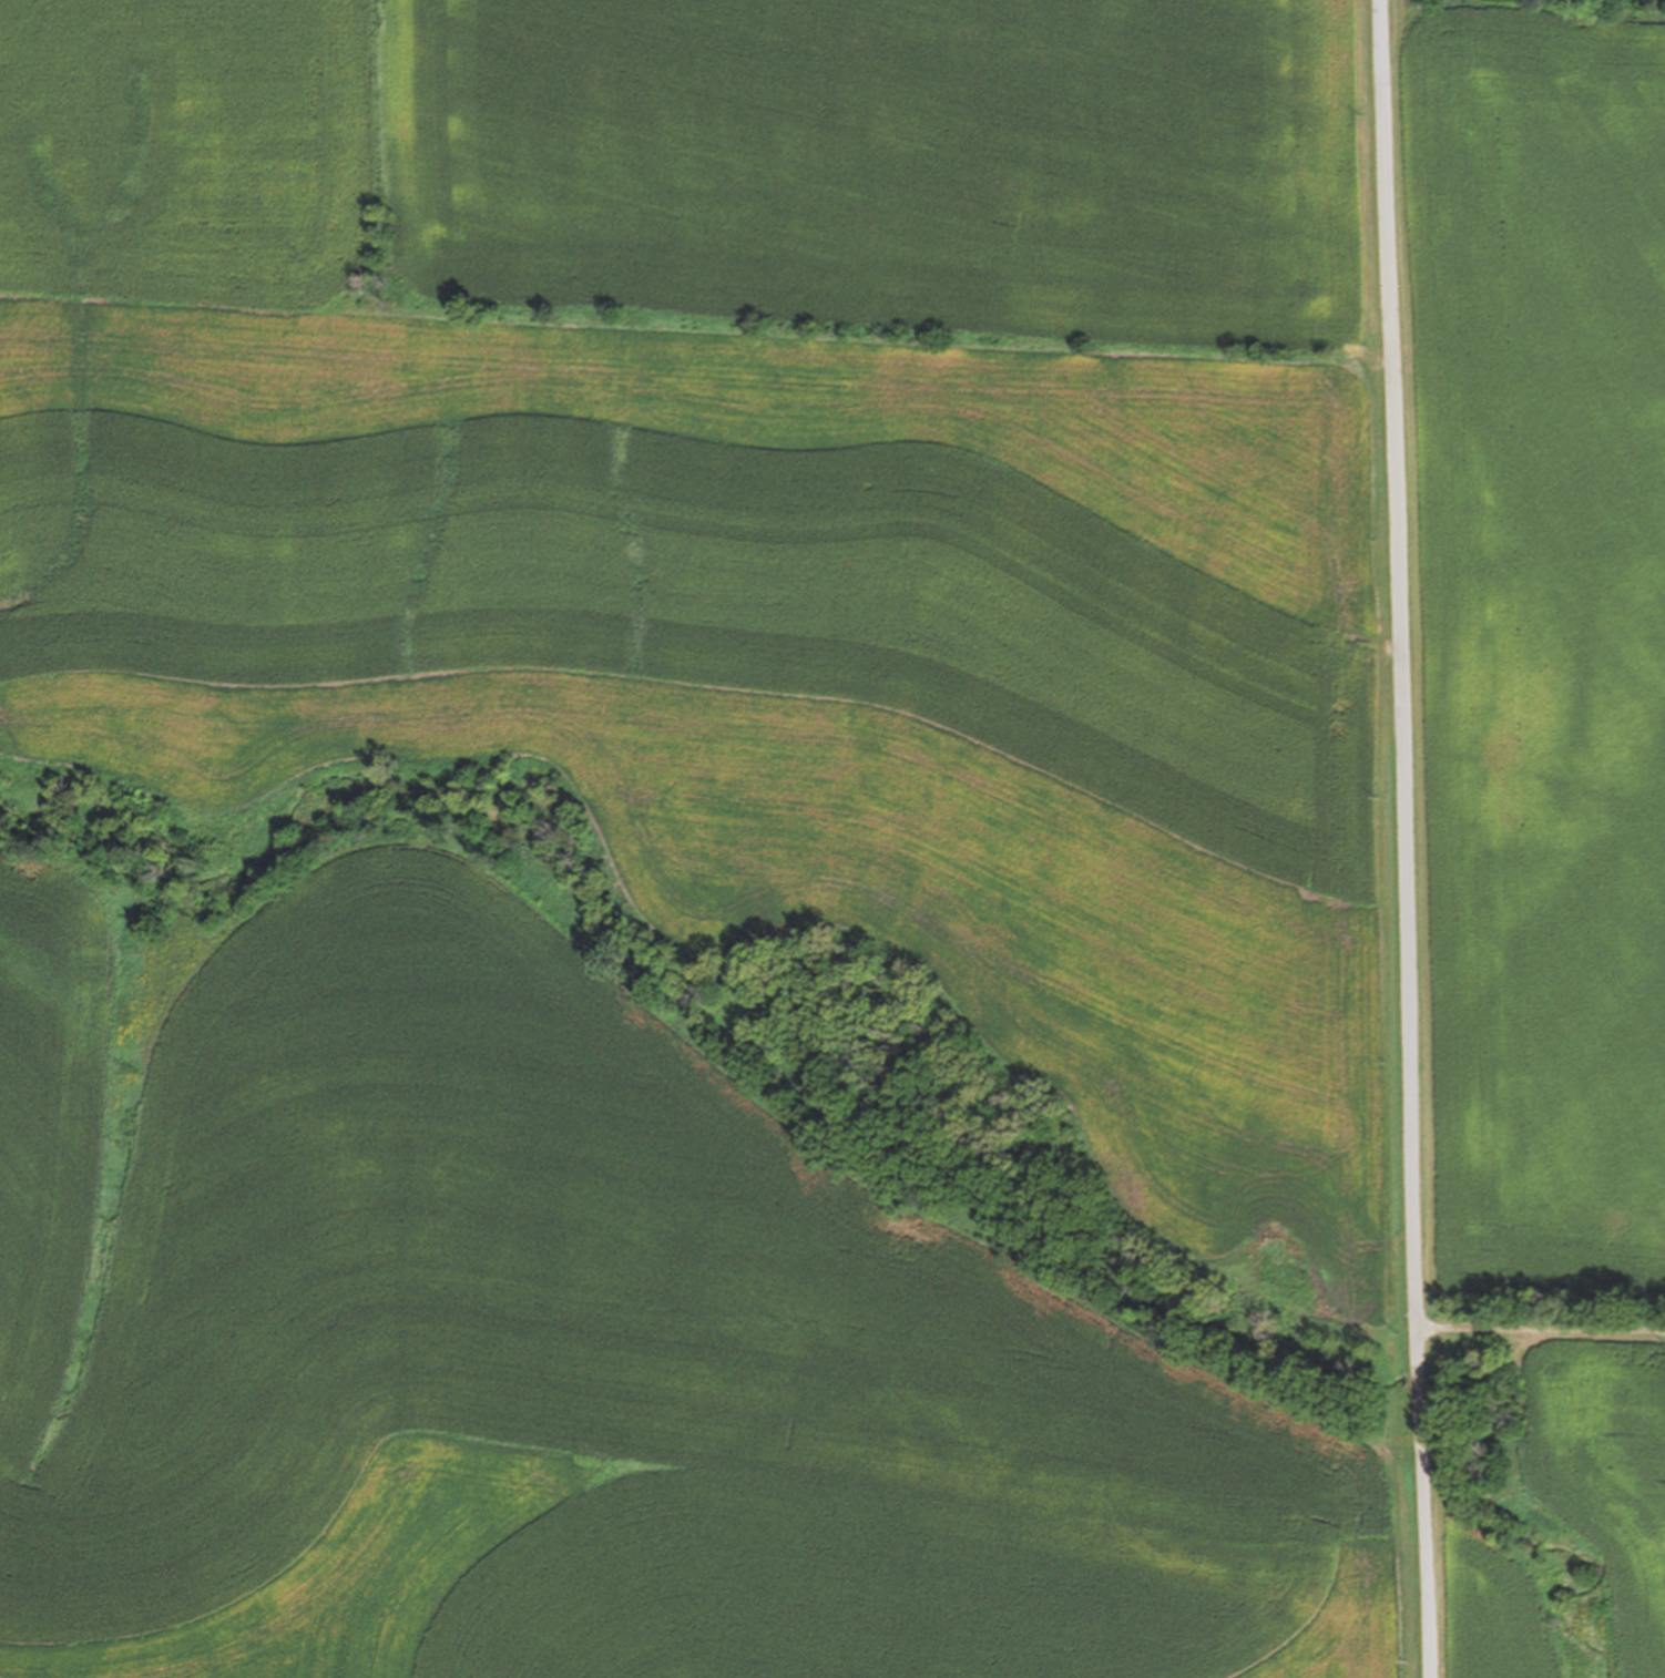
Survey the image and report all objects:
road: (1407, 838)
road: (1543, 1319)

